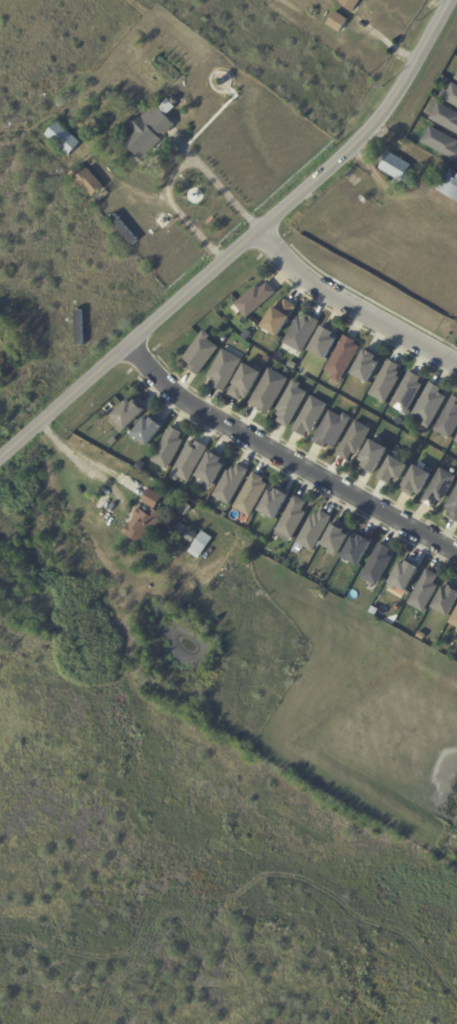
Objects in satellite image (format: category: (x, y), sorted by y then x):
building: (351, 4)
building: (338, 22)
building: (340, 41)
building: (168, 68)
building: (452, 77)
building: (456, 78)
building: (448, 83)
building: (452, 95)
building: (444, 116)
building: (149, 132)
building: (64, 139)
building: (442, 142)
building: (396, 166)
road: (174, 172)
building: (87, 181)
building: (450, 184)
road: (244, 244)
building: (256, 299)
road: (351, 307)
building: (280, 317)
building: (301, 333)
building: (248, 337)
building: (325, 344)
building: (201, 353)
building: (343, 359)
building: (369, 366)
building: (224, 371)
building: (246, 382)
building: (387, 382)
building: (408, 393)
building: (267, 394)
building: (291, 404)
building: (431, 405)
building: (131, 413)
building: (311, 417)
building: (449, 420)
building: (149, 430)
building: (333, 430)
building: (456, 439)
building: (355, 441)
building: (113, 442)
building: (169, 449)
building: (116, 450)
road: (286, 458)
building: (374, 458)
road: (77, 460)
building: (189, 462)
building: (213, 469)
building: (395, 470)
building: (418, 482)
building: (232, 485)
building: (440, 488)
building: (251, 495)
building: (152, 500)
building: (275, 504)
building: (208, 507)
building: (453, 507)
building: (292, 520)
building: (145, 526)
building: (313, 532)
building: (184, 534)
building: (338, 539)
building: (201, 546)
building: (358, 550)
building: (378, 566)
building: (405, 576)
building: (425, 592)
building: (447, 601)
building: (455, 622)
building: (456, 630)

